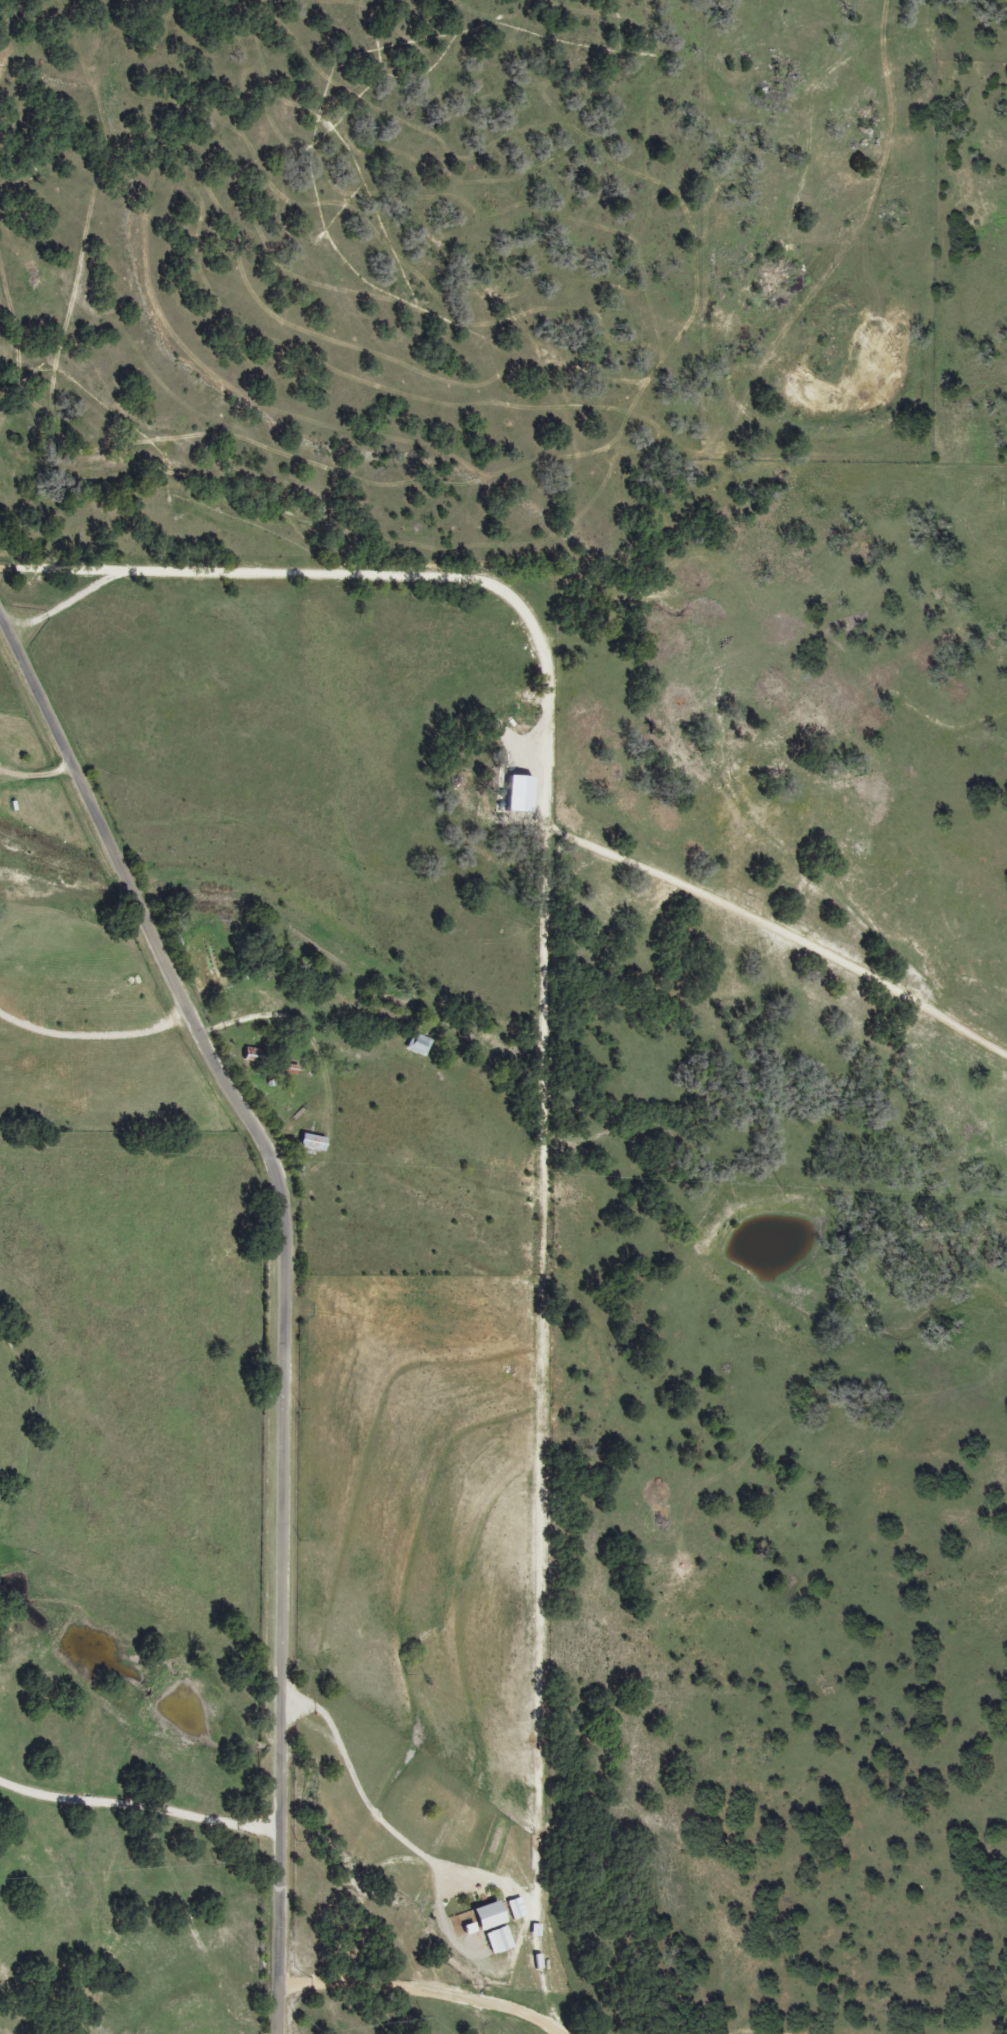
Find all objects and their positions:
road: (770, 934)
road: (548, 1041)
building: (414, 1044)
road: (450, 1165)
road: (282, 1292)
road: (142, 1807)
building: (480, 1916)
road: (427, 1982)

